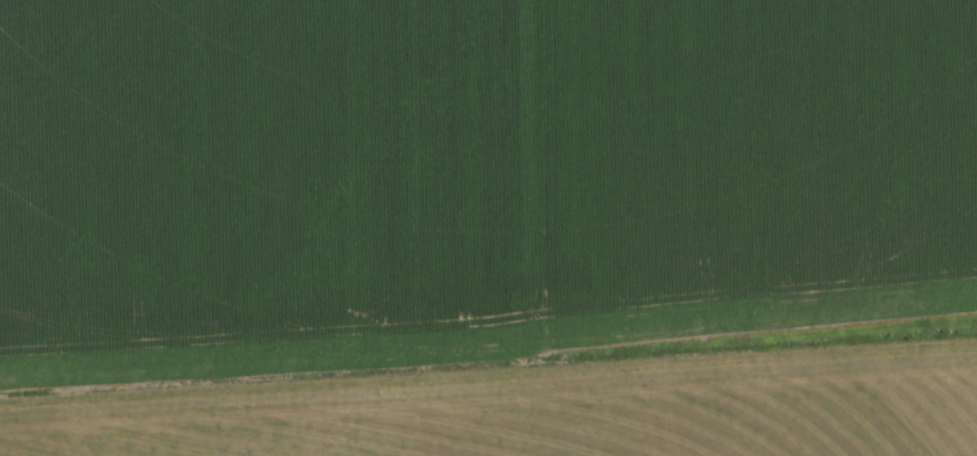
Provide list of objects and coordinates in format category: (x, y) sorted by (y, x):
crop: (751, 163)
crop: (343, 257)

